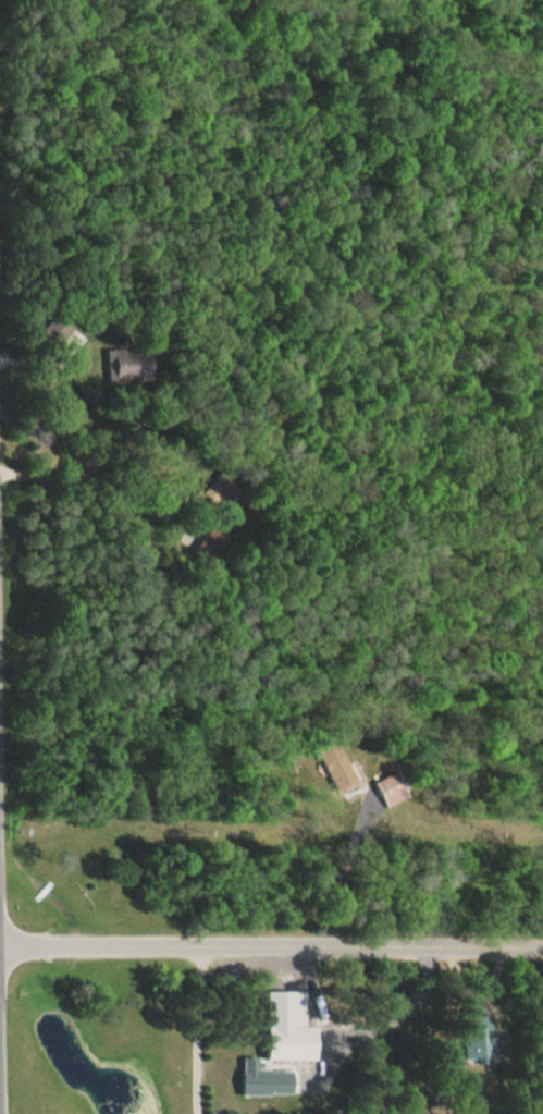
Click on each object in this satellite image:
building: (332, 764)
road: (271, 945)
building: (476, 1038)

